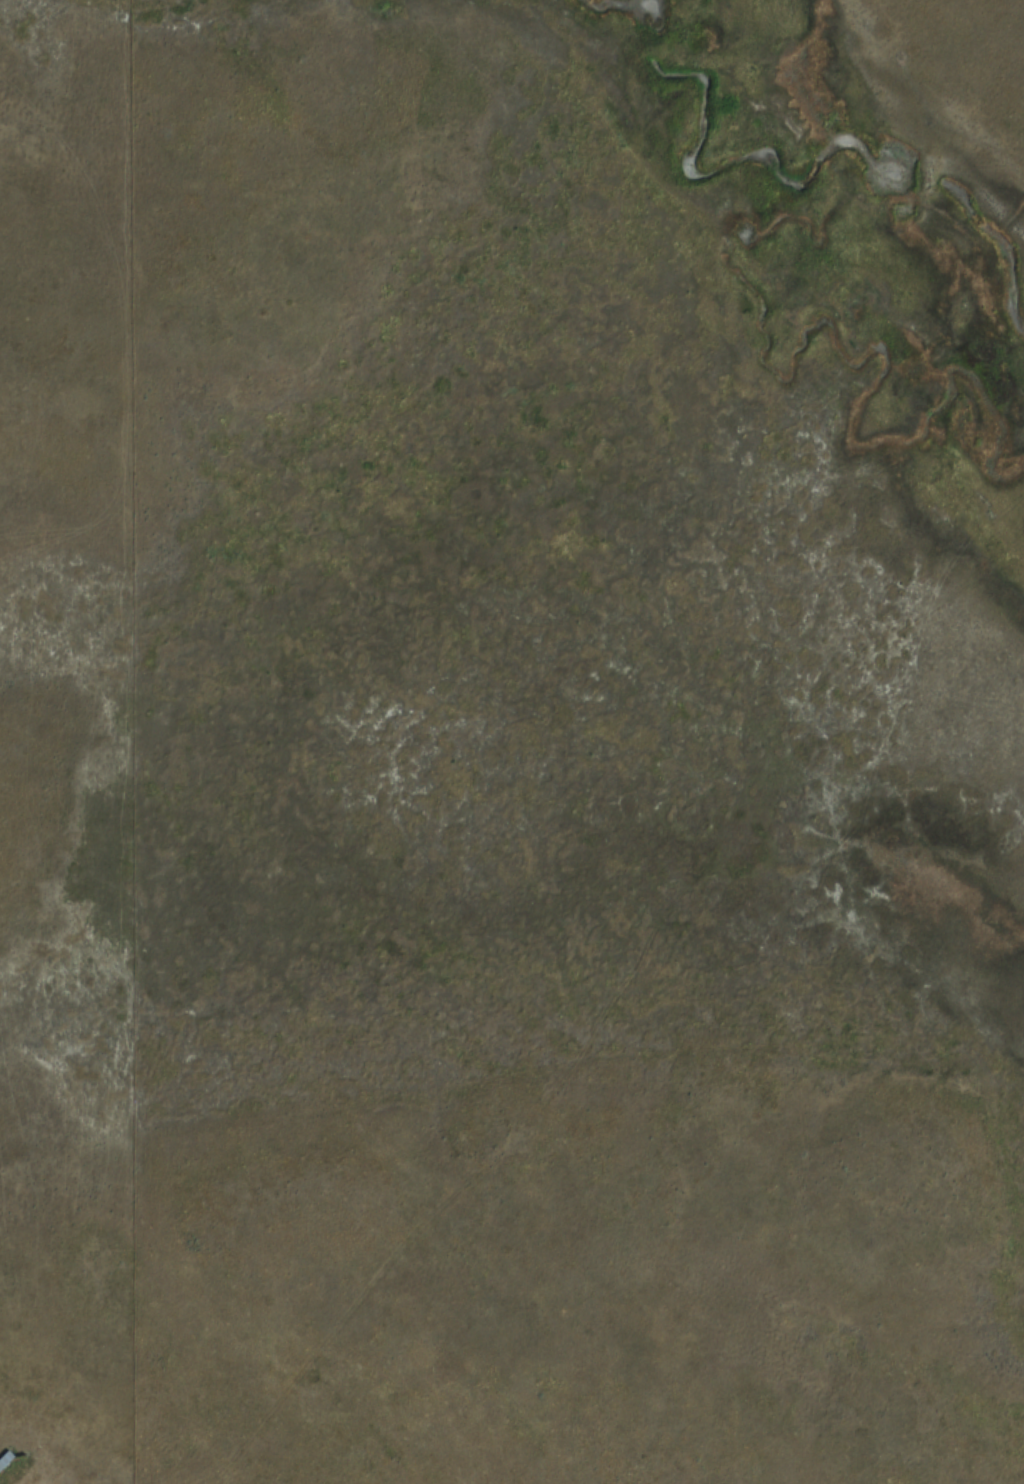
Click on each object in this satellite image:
building: (5, 1459)

